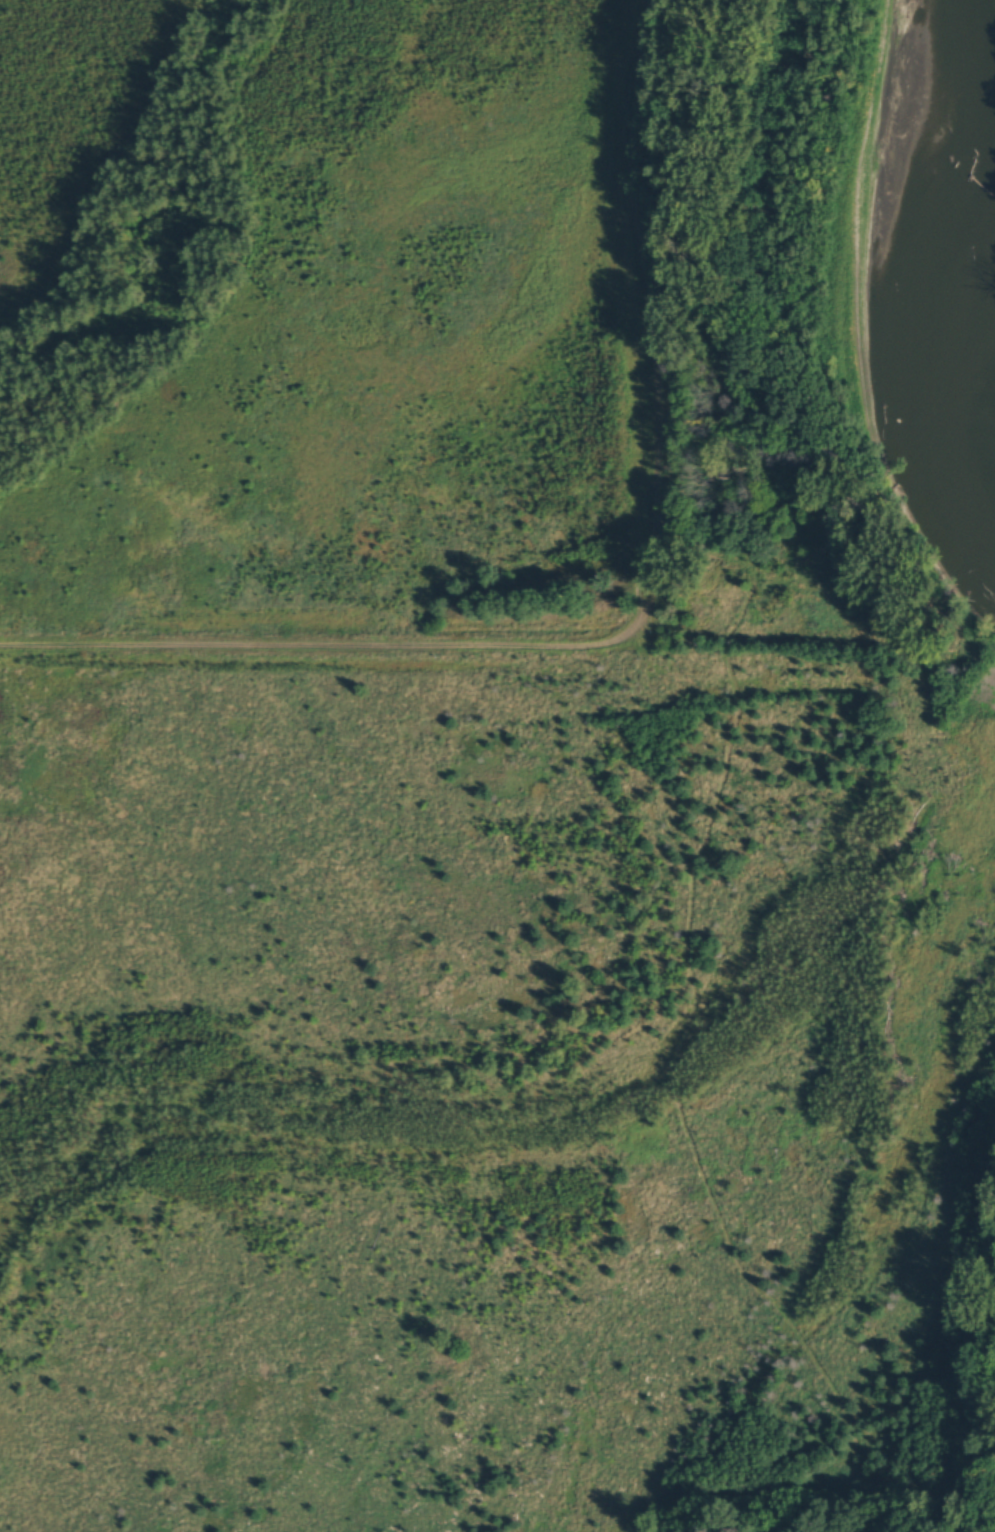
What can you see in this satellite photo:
river: (939, 256)
road: (655, 328)
road: (311, 648)

